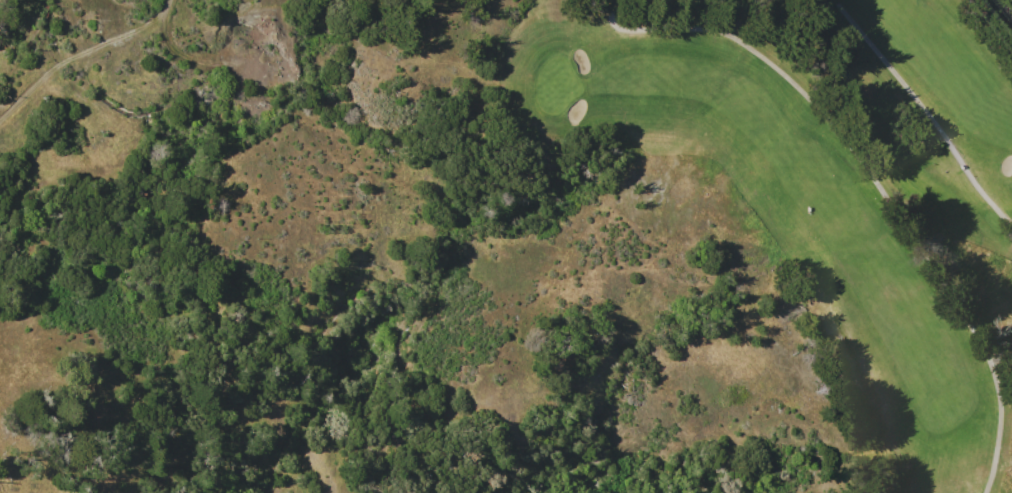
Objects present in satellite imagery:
road: (1011, 1)
road: (601, 6)
road: (162, 7)
road: (583, 13)
road: (734, 14)
road: (117, 32)
park: (551, 89)
road: (924, 112)
park: (809, 183)
road: (870, 186)

